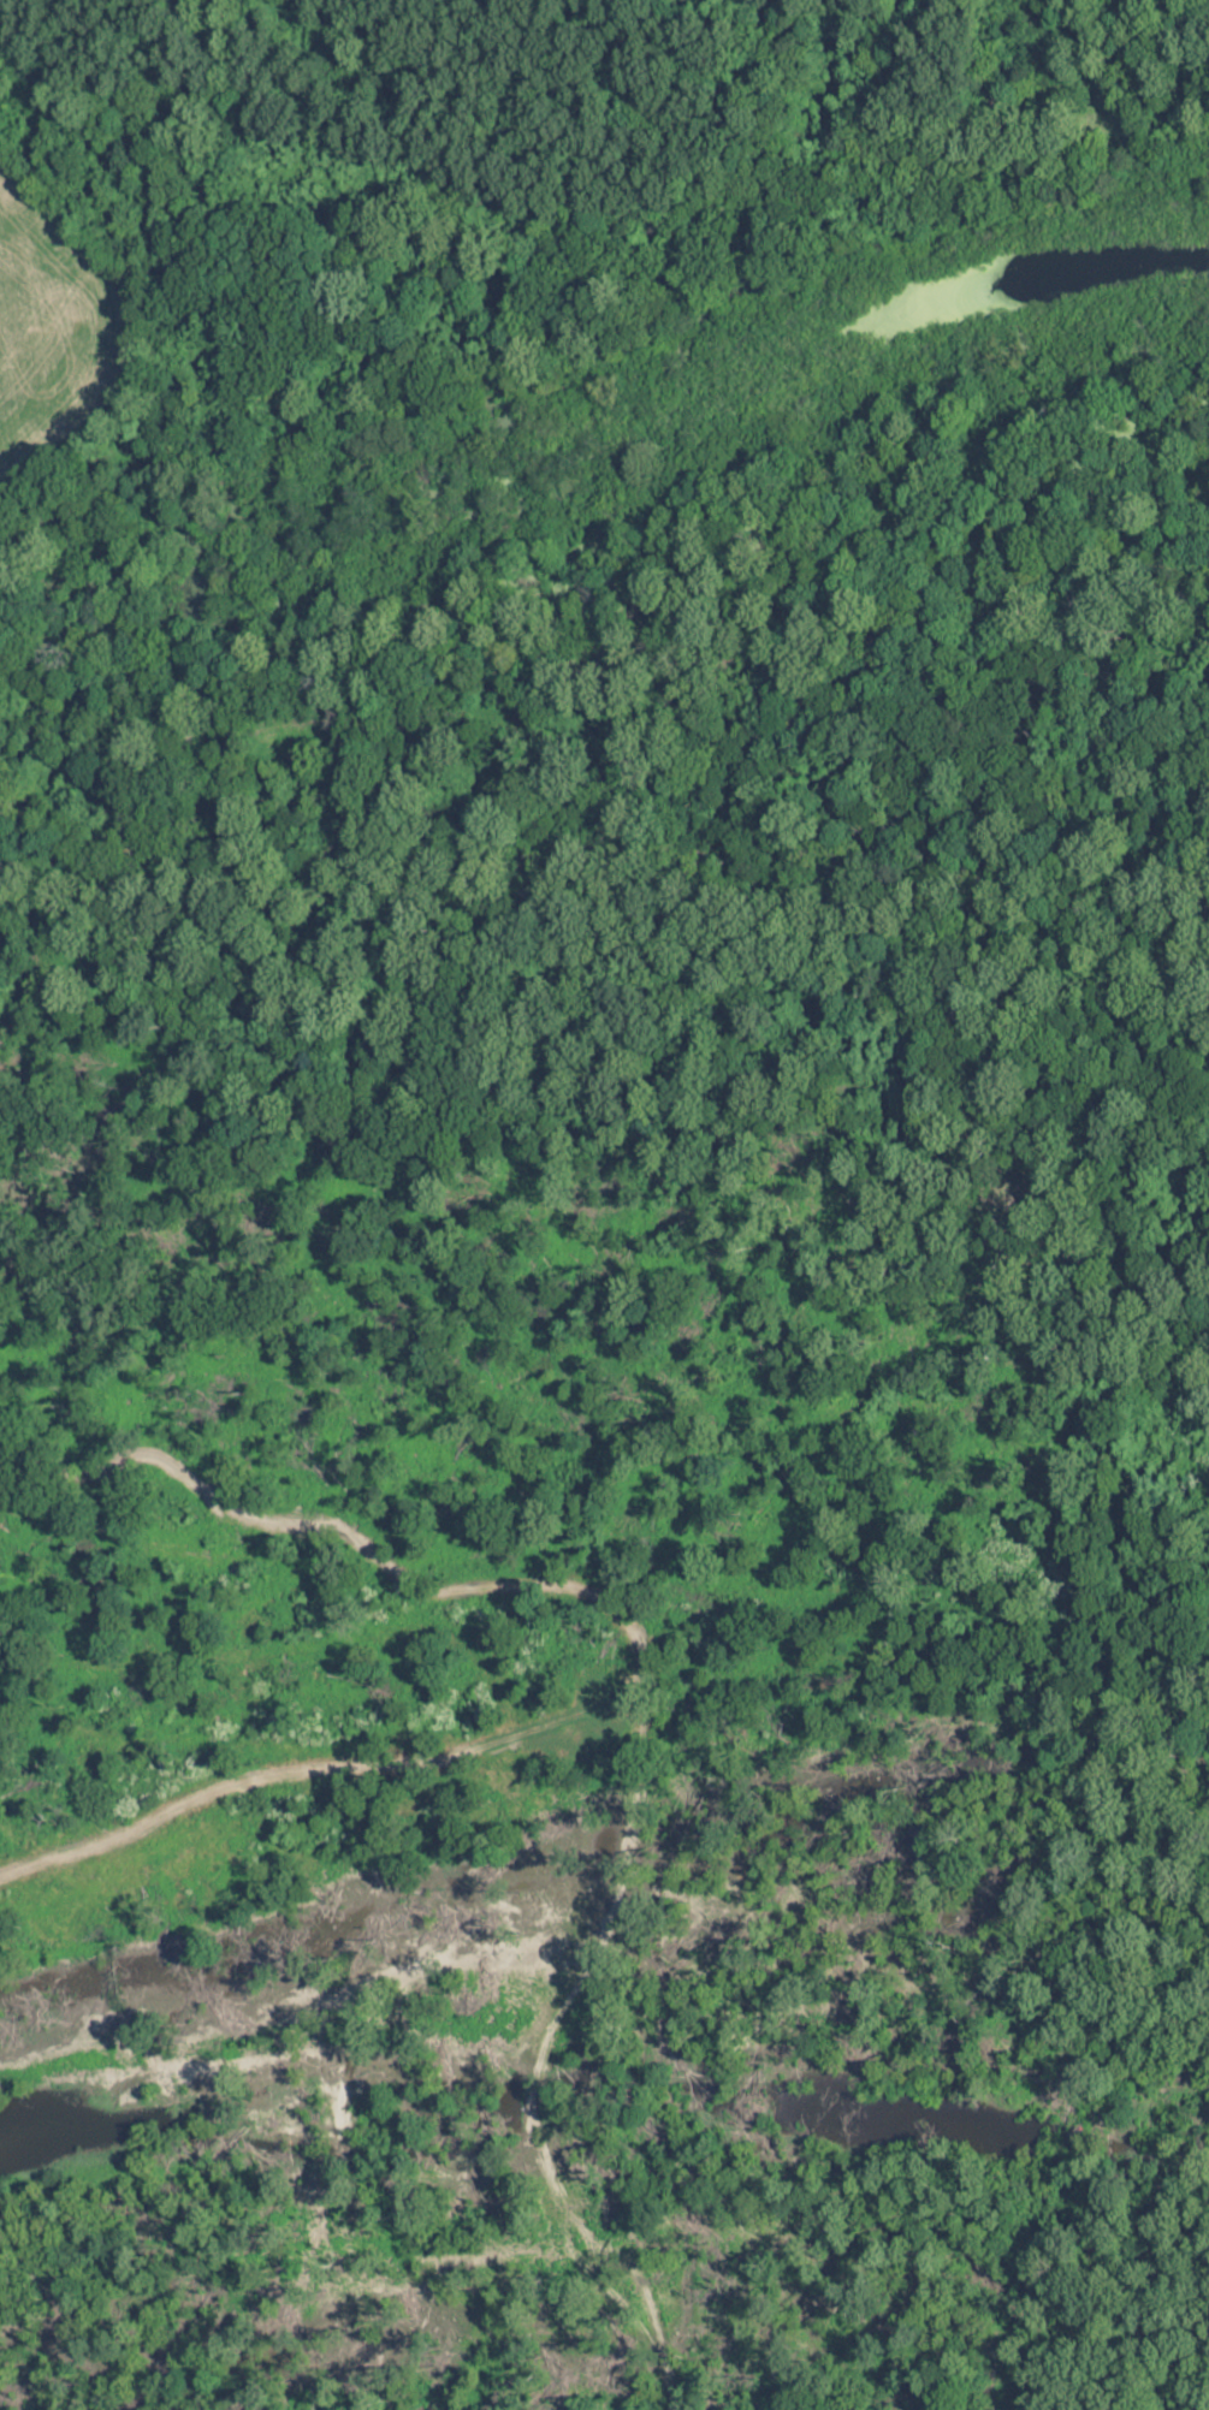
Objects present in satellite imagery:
road: (170, 190)
road: (600, 250)

